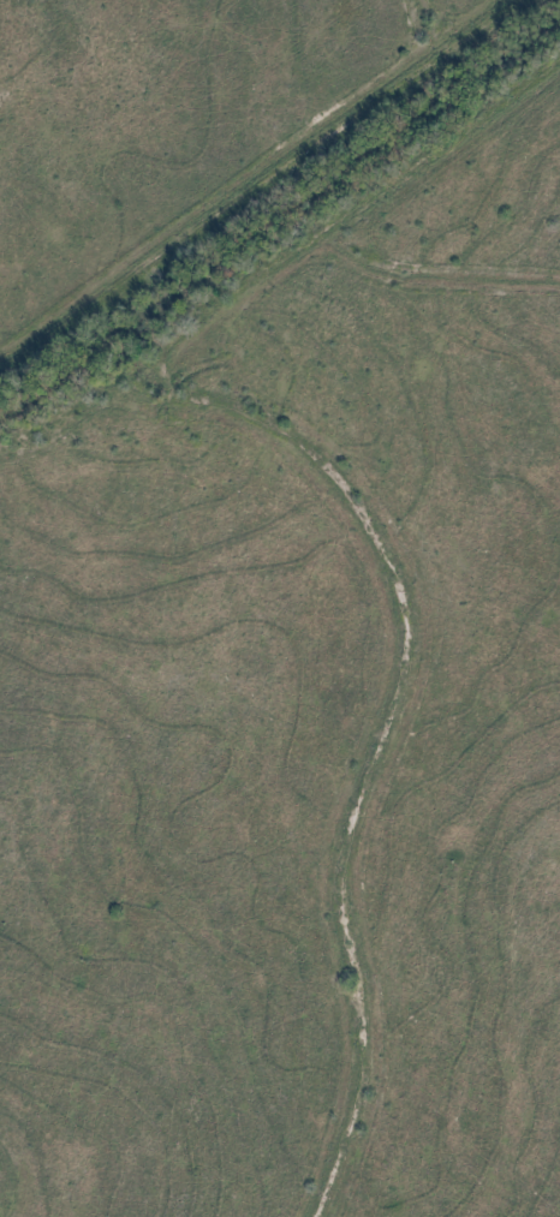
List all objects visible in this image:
road: (285, 267)

